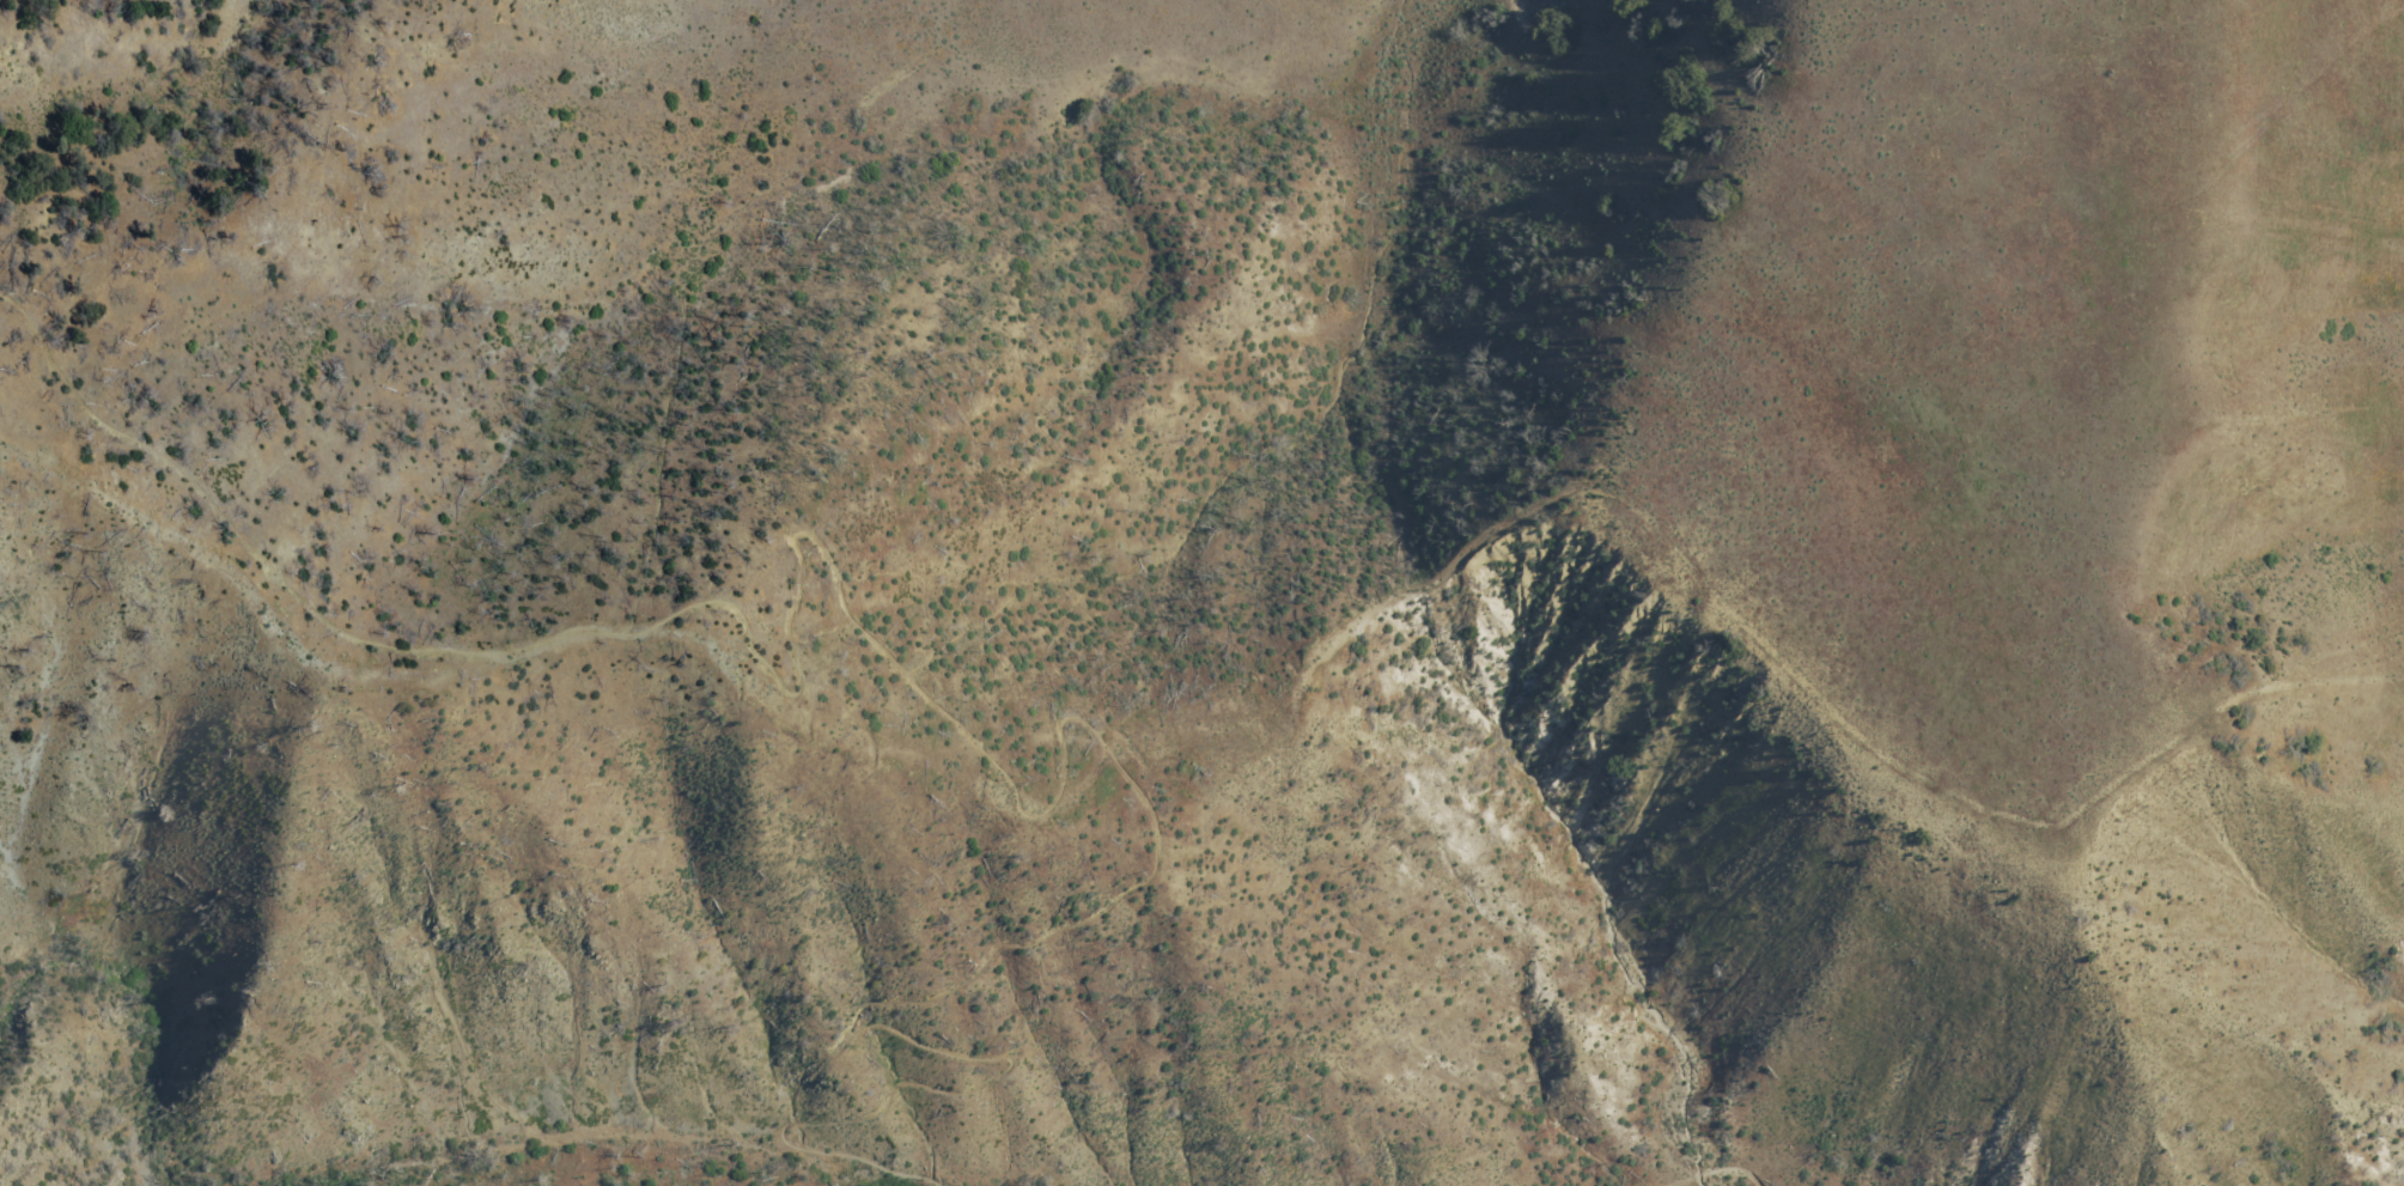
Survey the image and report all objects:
road: (418, 628)
road: (1063, 929)
road: (1711, 1172)

